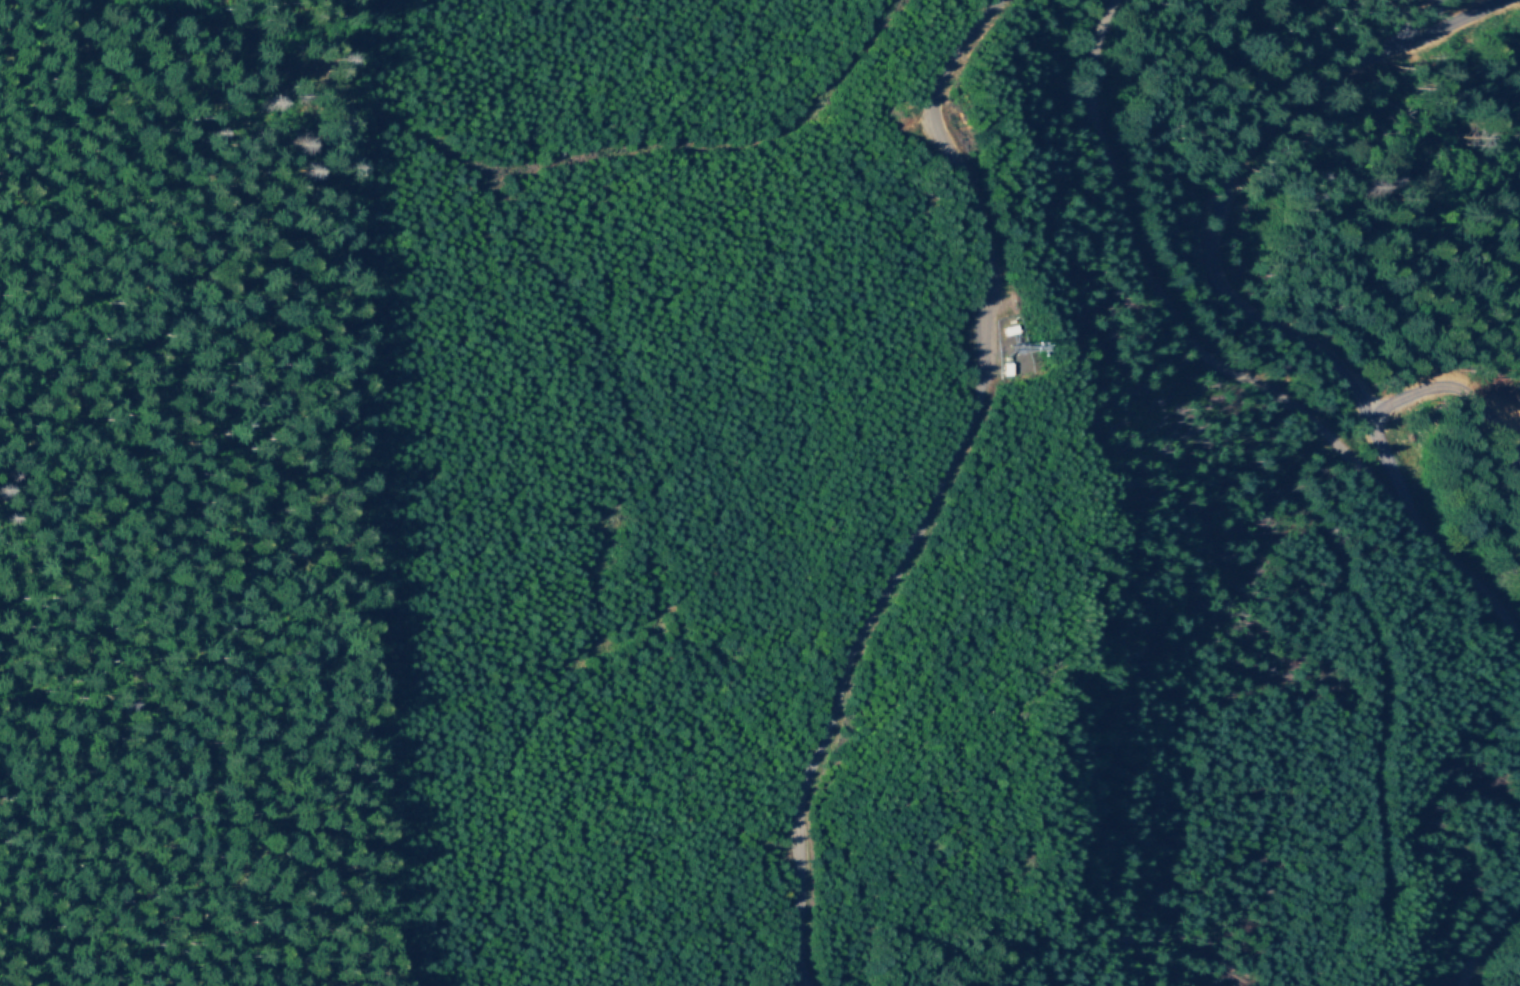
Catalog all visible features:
road: (946, 482)

